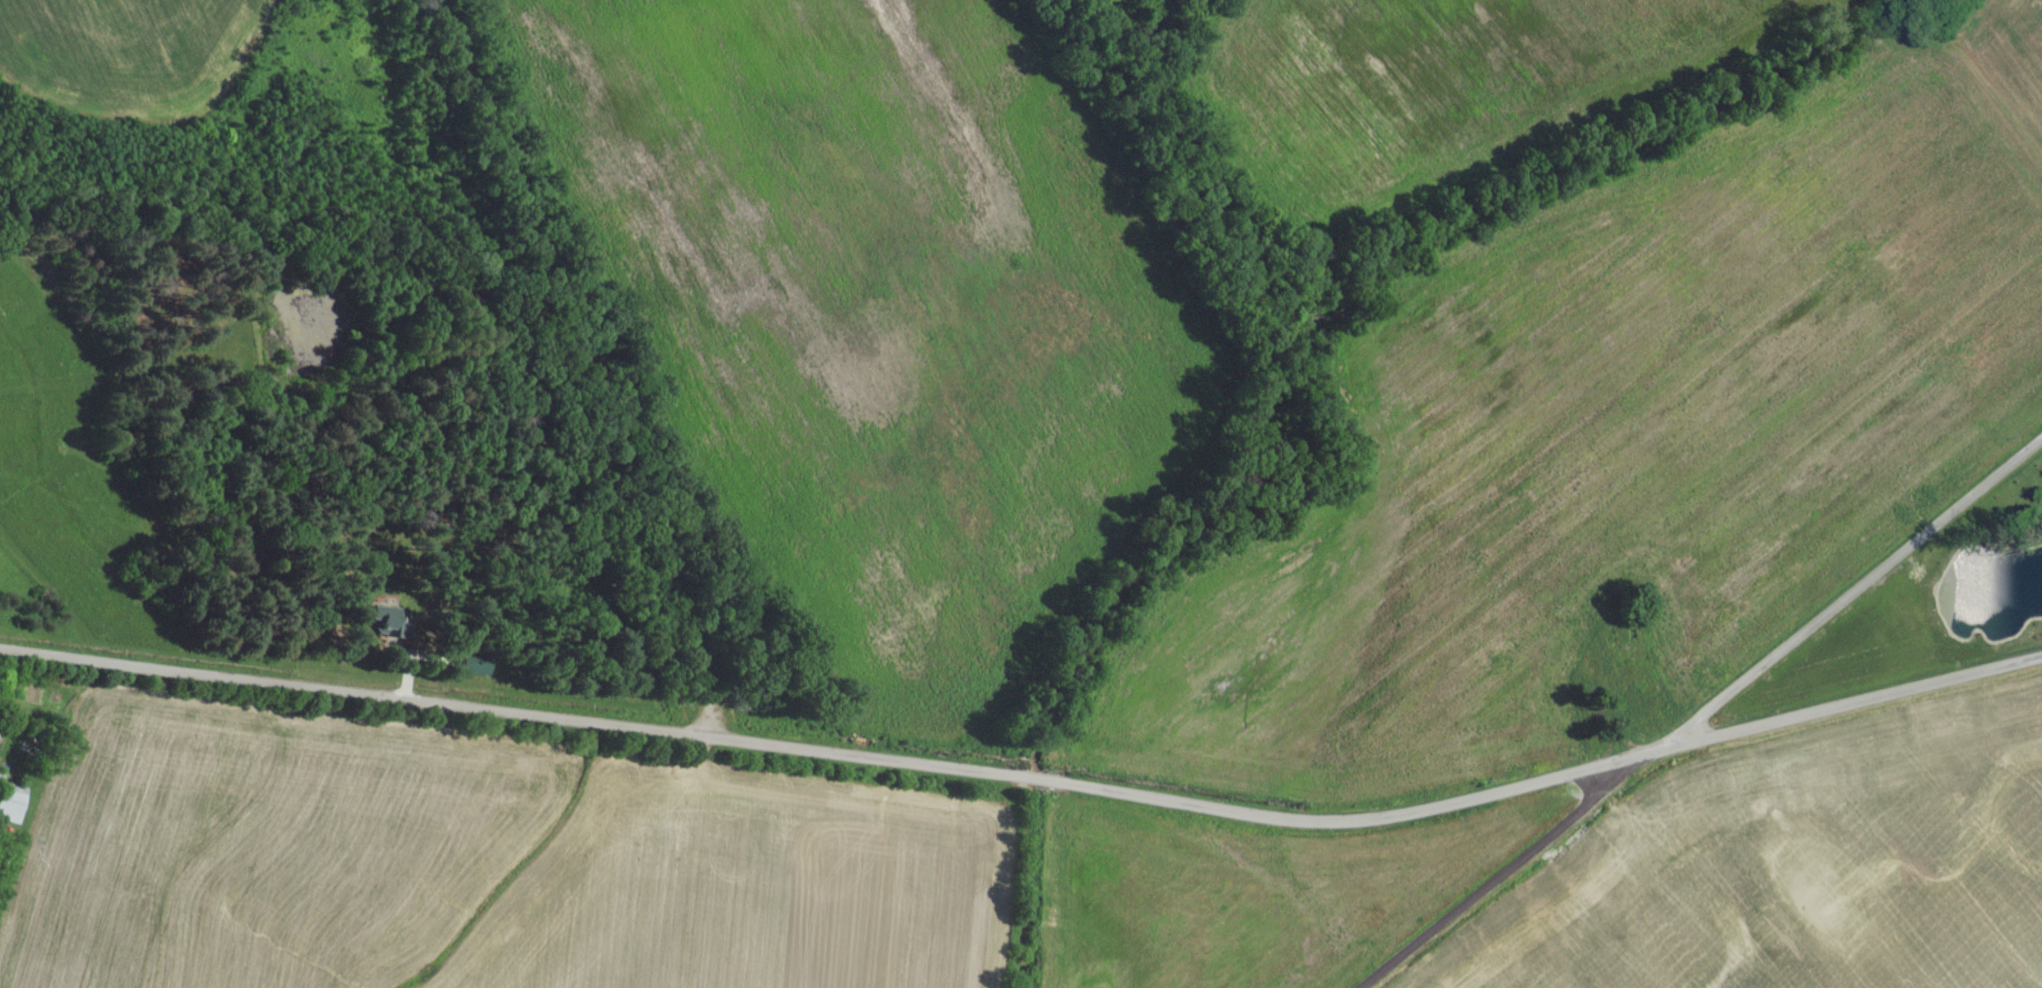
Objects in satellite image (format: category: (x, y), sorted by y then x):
building: (386, 627)
road: (1706, 717)
road: (521, 719)
building: (0, 781)
road: (1545, 786)
building: (11, 808)

